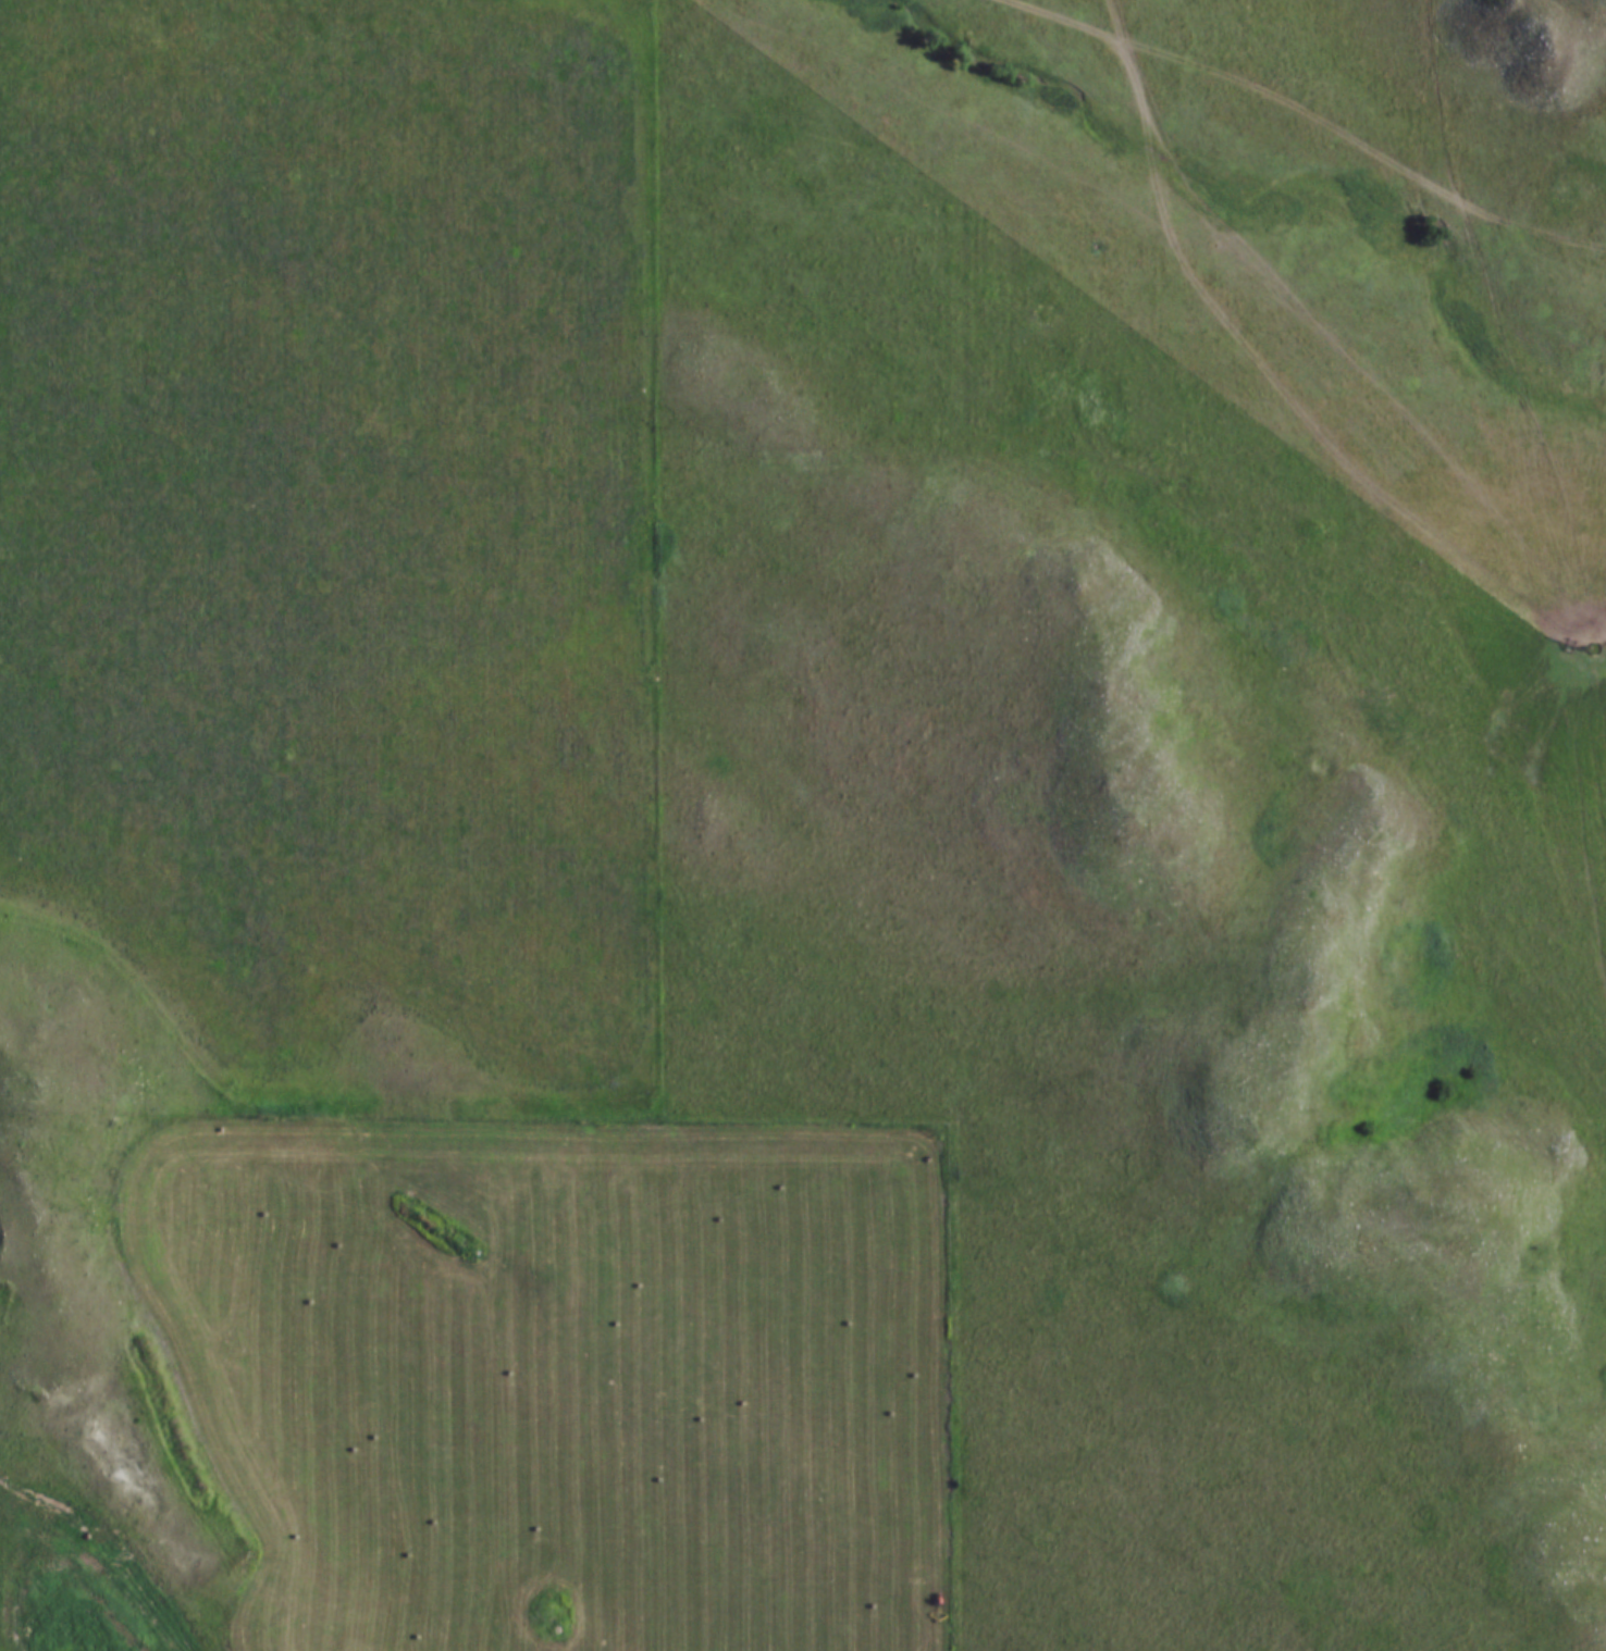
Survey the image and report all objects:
road: (1314, 115)
road: (1579, 513)

